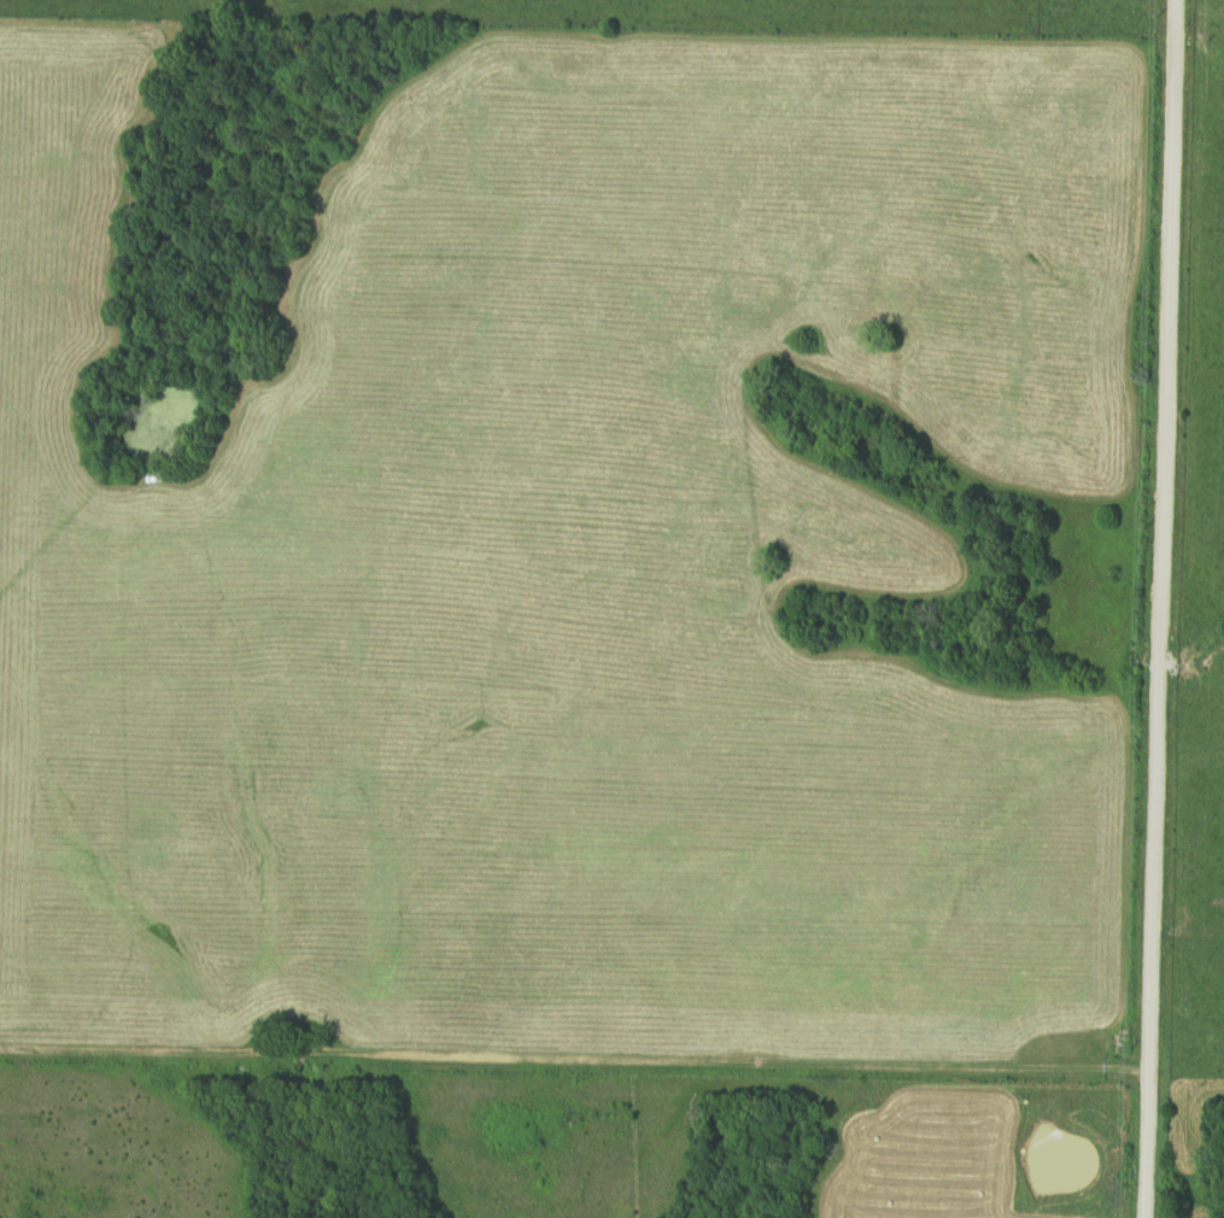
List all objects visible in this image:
road: (1158, 609)
road: (568, 1048)

